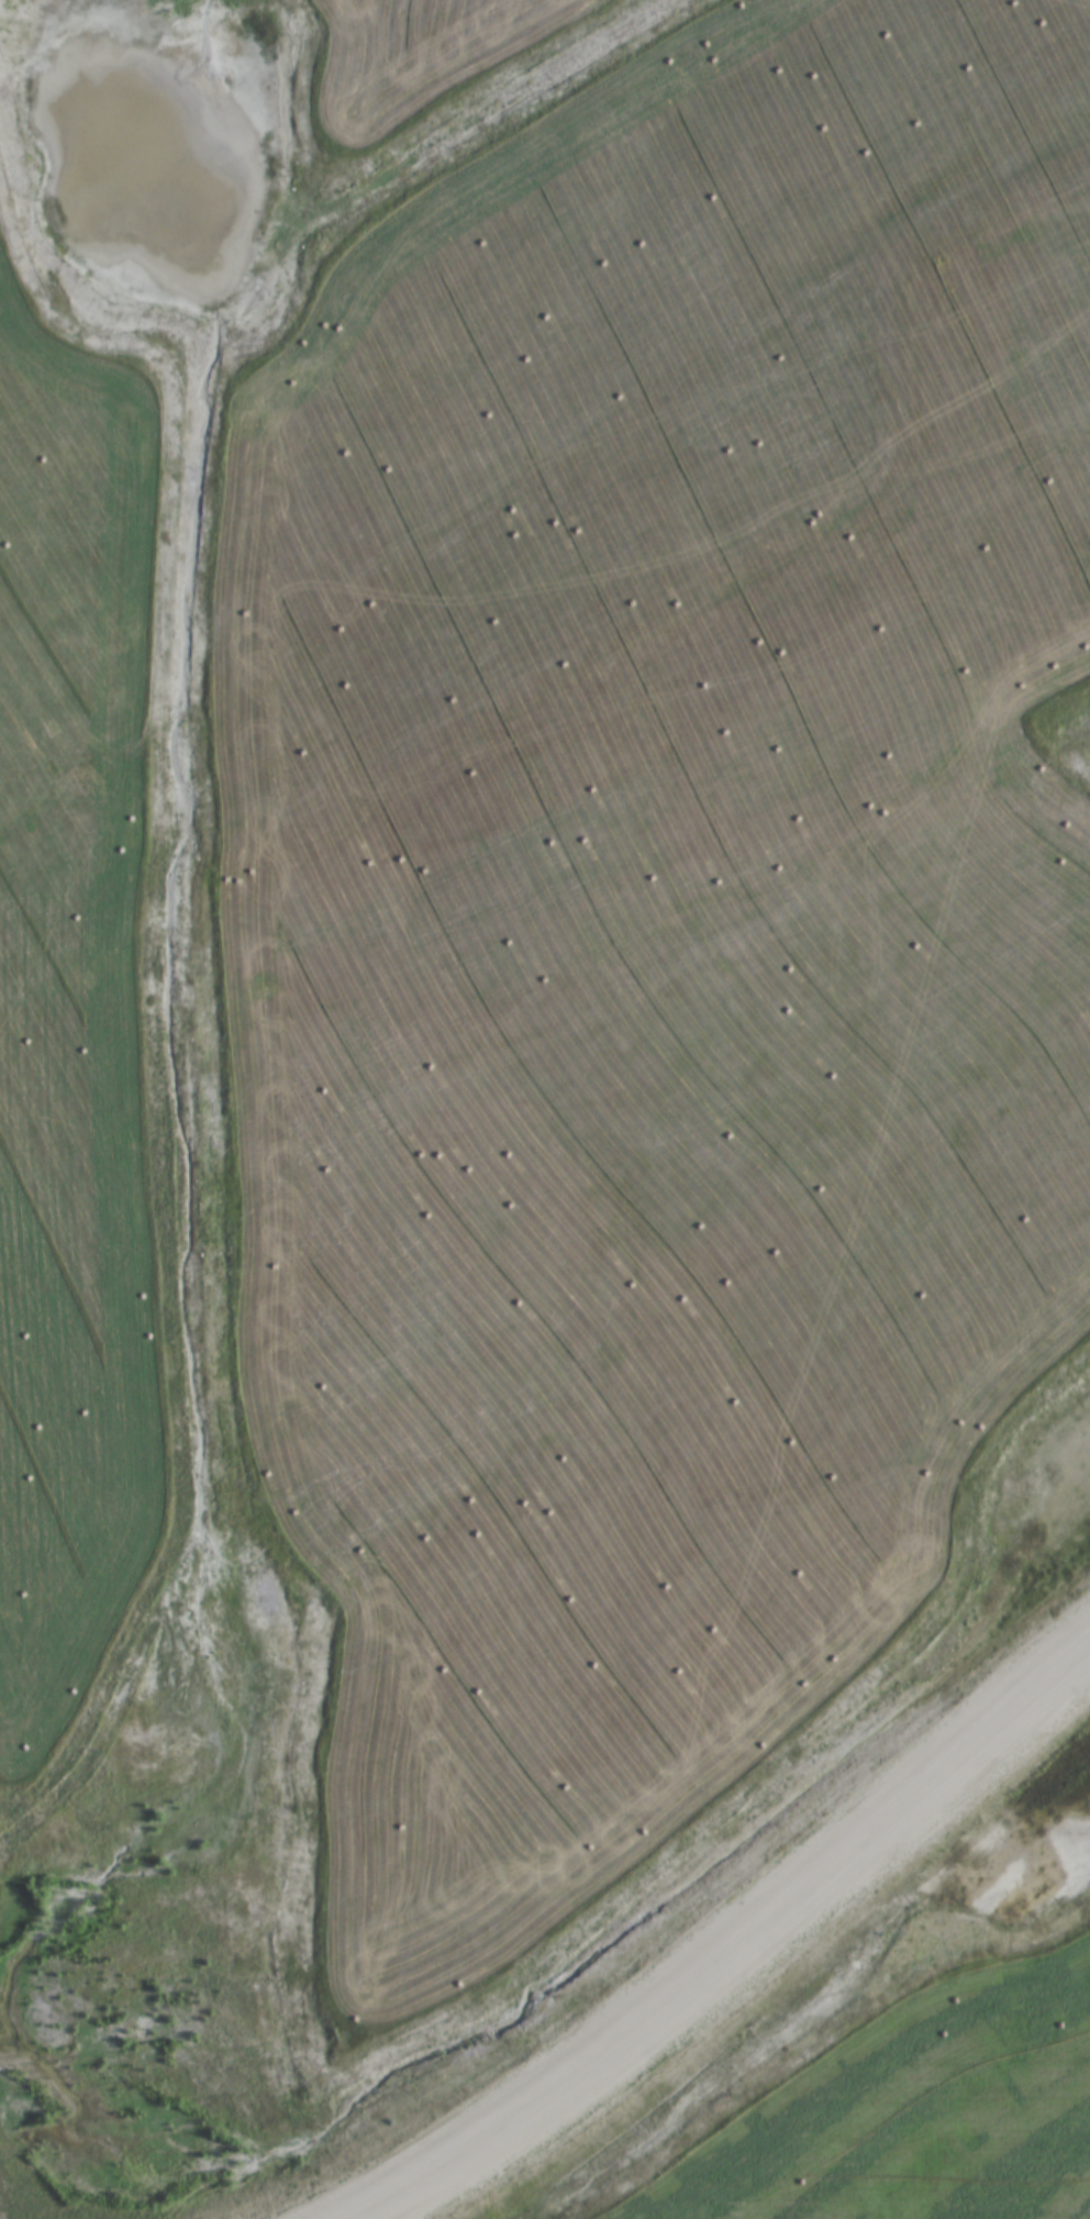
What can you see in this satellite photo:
quarry: (570, 2055)

